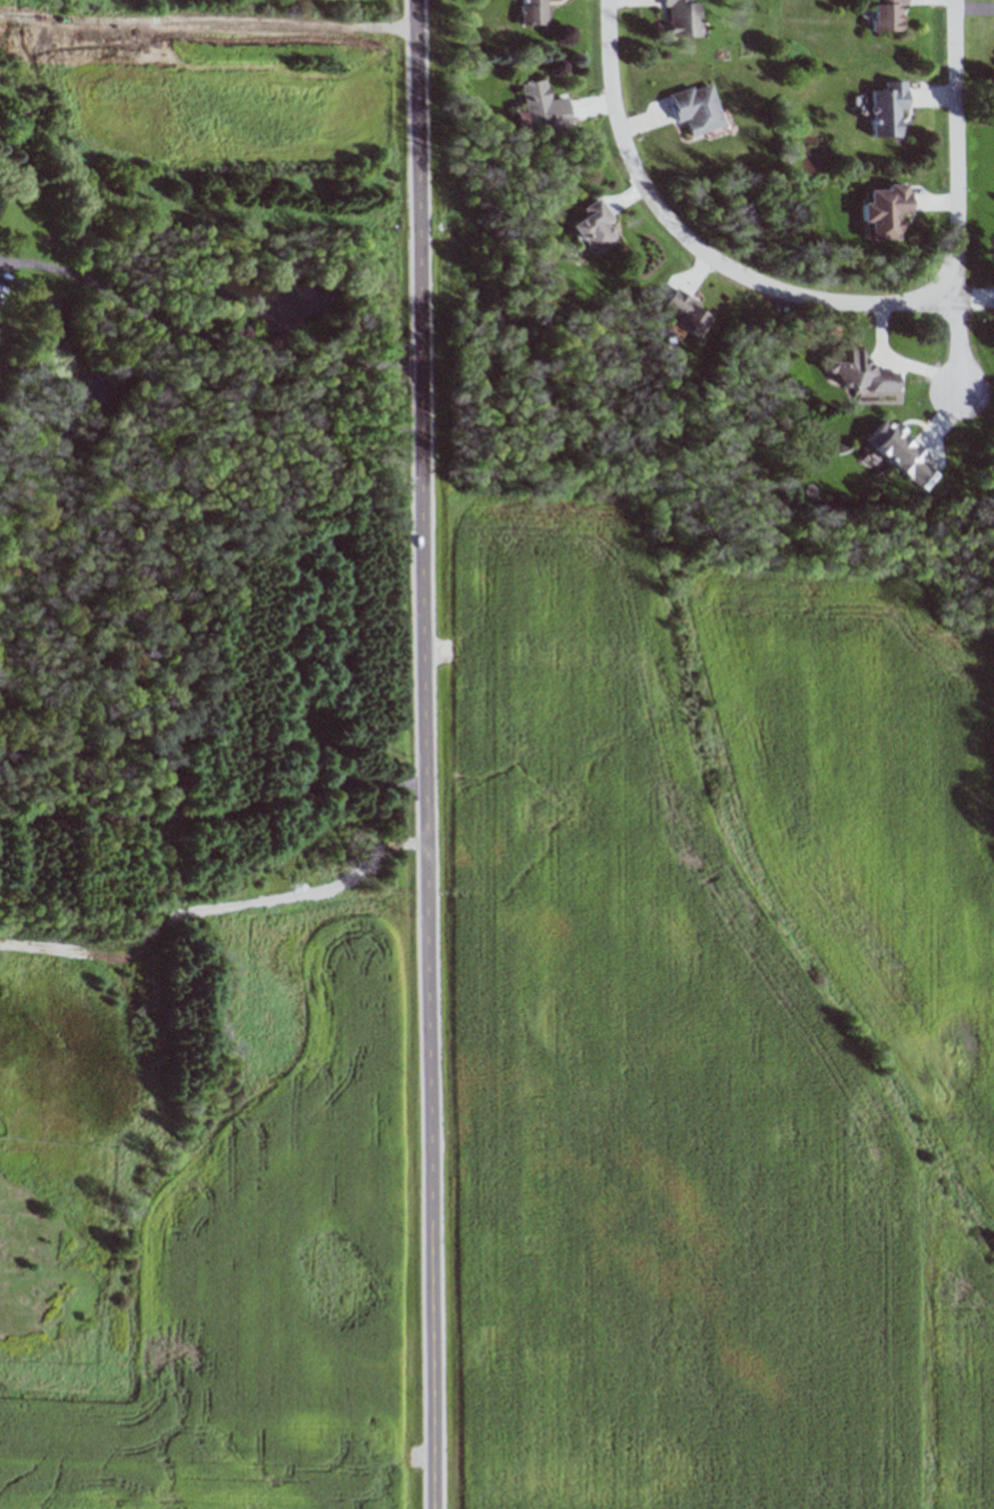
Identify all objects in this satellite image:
building: (532, 12)
building: (884, 14)
building: (682, 18)
building: (543, 106)
building: (696, 108)
building: (886, 108)
road: (957, 116)
building: (883, 211)
building: (594, 230)
road: (715, 258)
road: (959, 312)
building: (686, 313)
road: (203, 337)
building: (856, 372)
building: (900, 454)
road: (427, 754)
road: (215, 809)
crop: (269, 1266)

